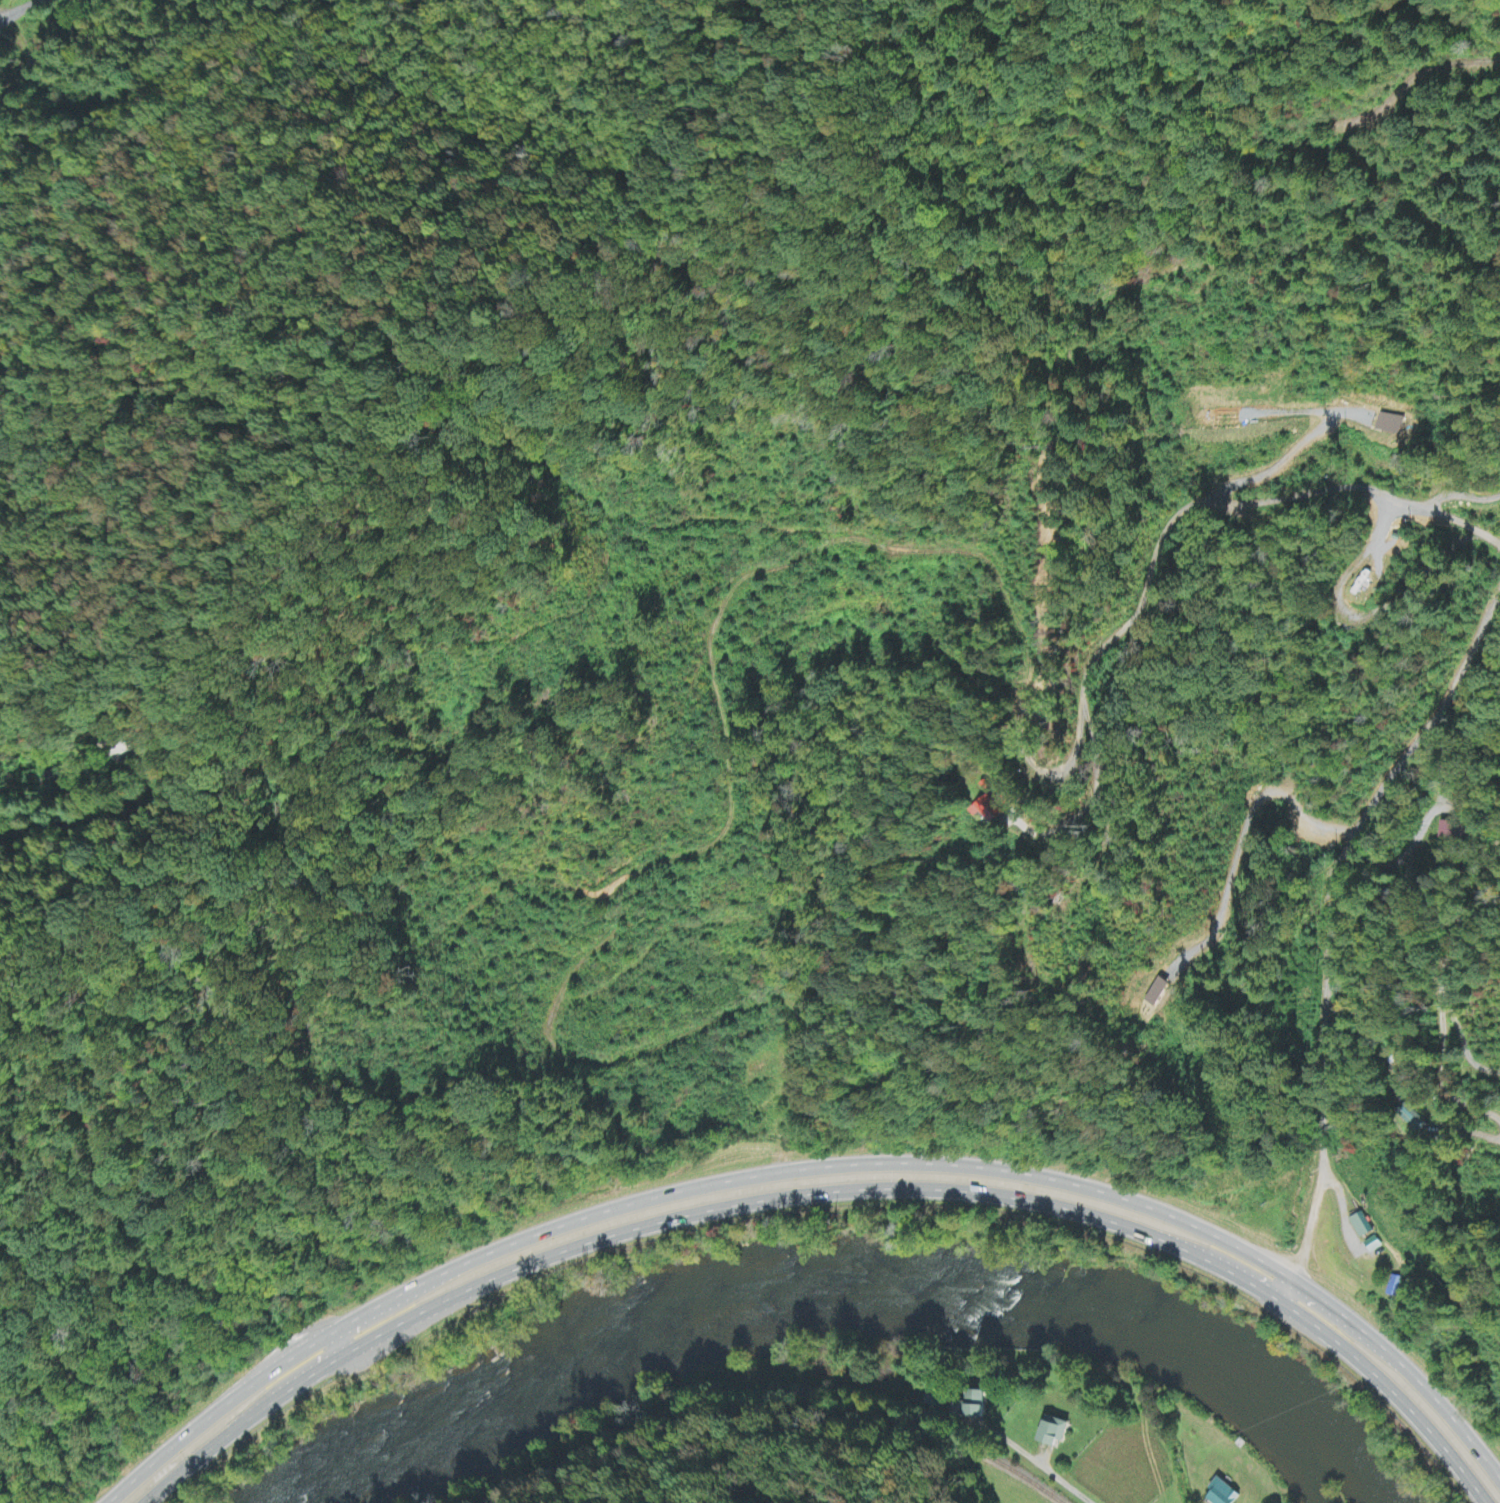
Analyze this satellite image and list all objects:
road: (17, 9)
building: (1392, 425)
building: (116, 747)
building: (990, 811)
building: (1451, 832)
building: (1412, 1119)
road: (808, 1167)
road: (827, 1190)
building: (1361, 1226)
road: (1227, 1260)
road: (388, 1309)
river: (703, 1313)
road: (1327, 1315)
river: (1219, 1354)
road: (290, 1379)
railway: (769, 1380)
building: (975, 1406)
building: (1056, 1433)
river: (1306, 1457)
road: (1043, 1467)
building: (1225, 1493)

